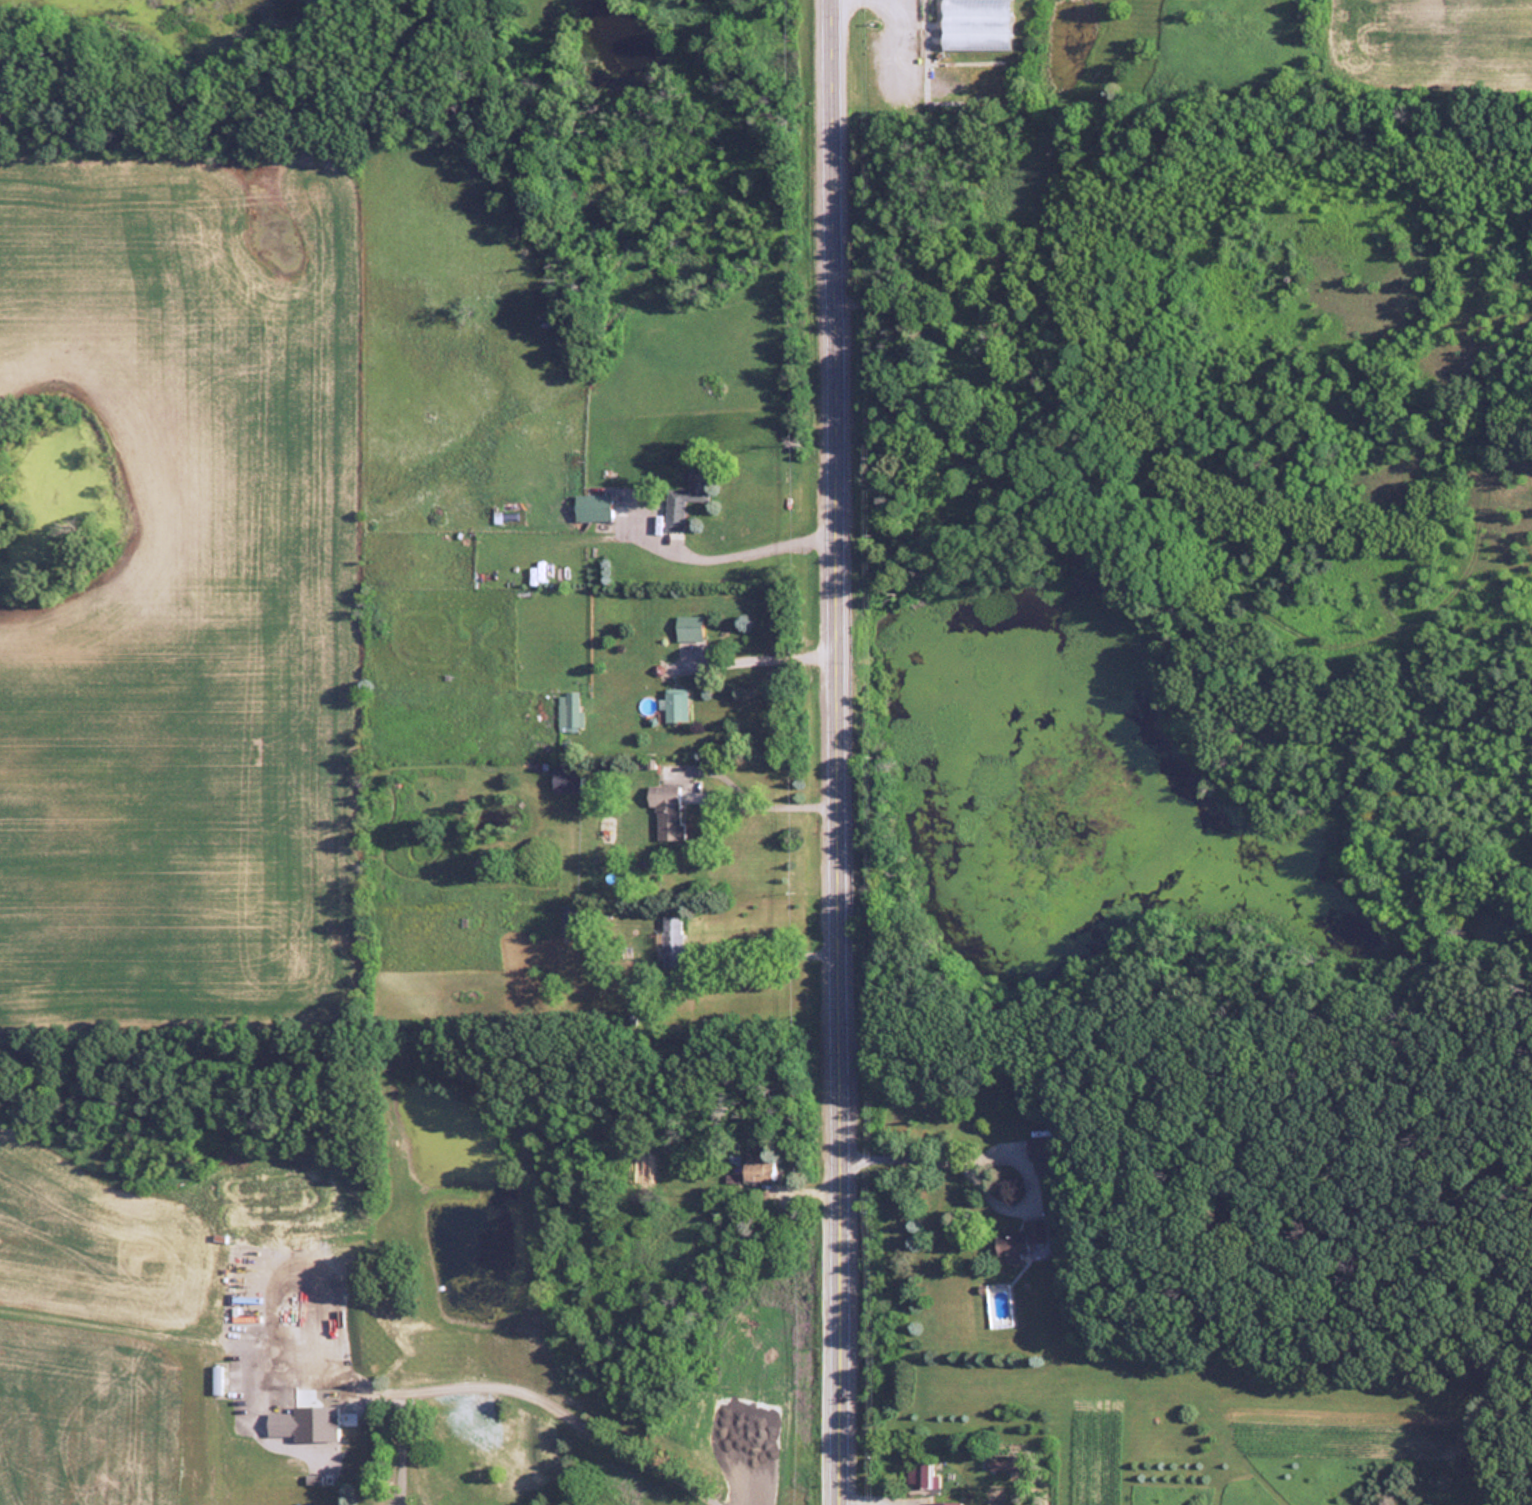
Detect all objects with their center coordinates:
building: (975, 24)
road: (895, 43)
building: (683, 498)
building: (592, 507)
road: (742, 552)
building: (688, 628)
building: (675, 705)
building: (570, 711)
road: (842, 752)
building: (566, 779)
building: (667, 811)
building: (568, 920)
building: (673, 941)
building: (1042, 1154)
road: (921, 1159)
building: (758, 1170)
building: (1020, 1242)
road: (579, 1408)
building: (303, 1424)
building: (919, 1476)
building: (938, 1504)

